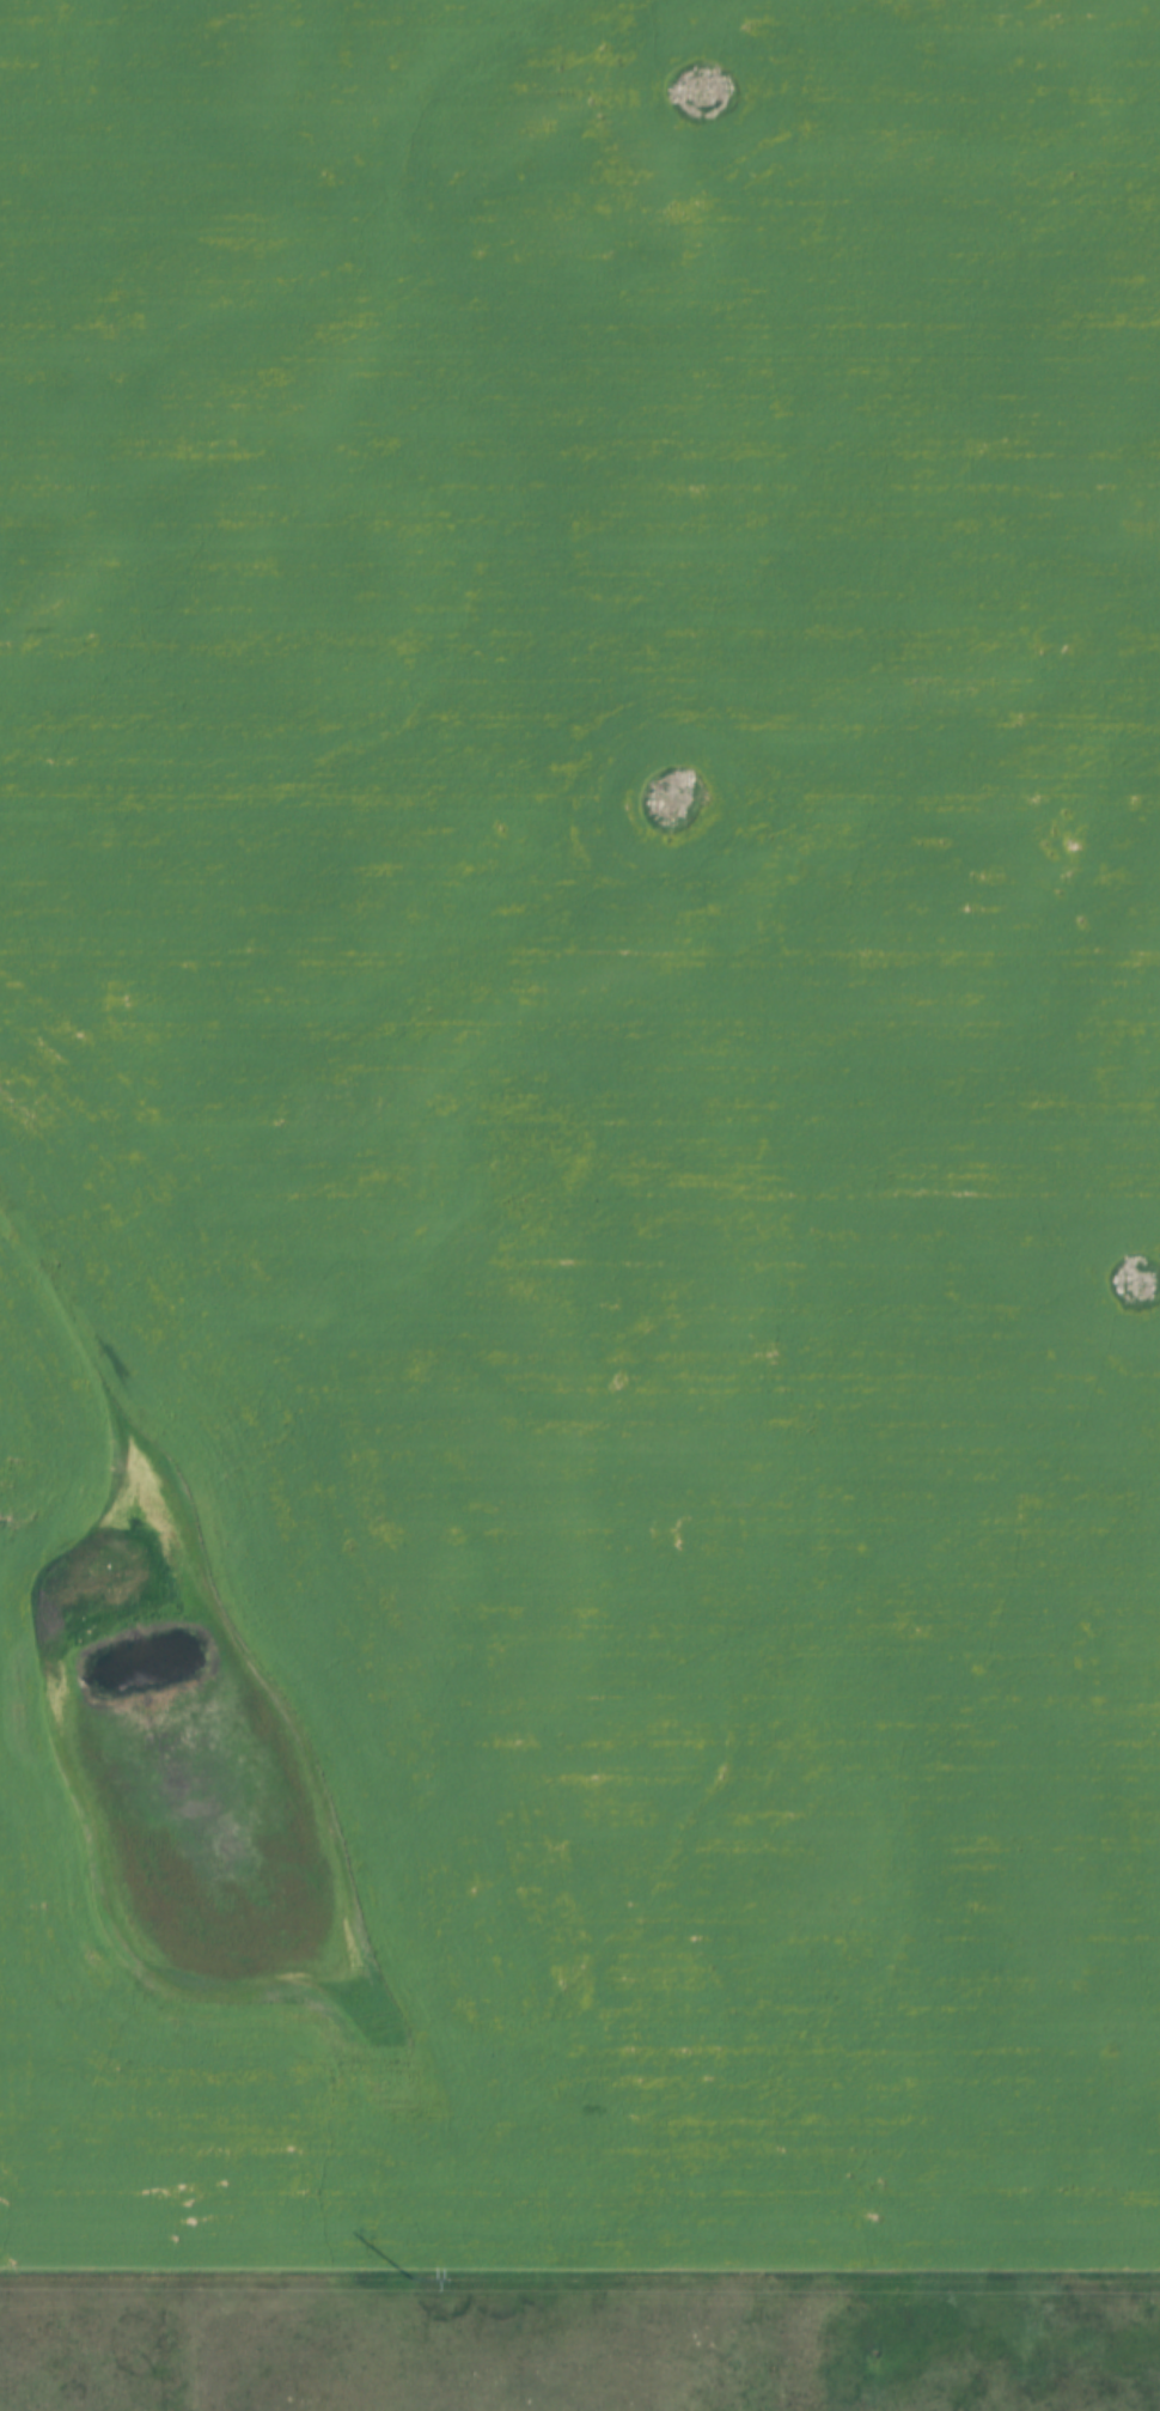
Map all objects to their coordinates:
power tower: (407, 2276)

